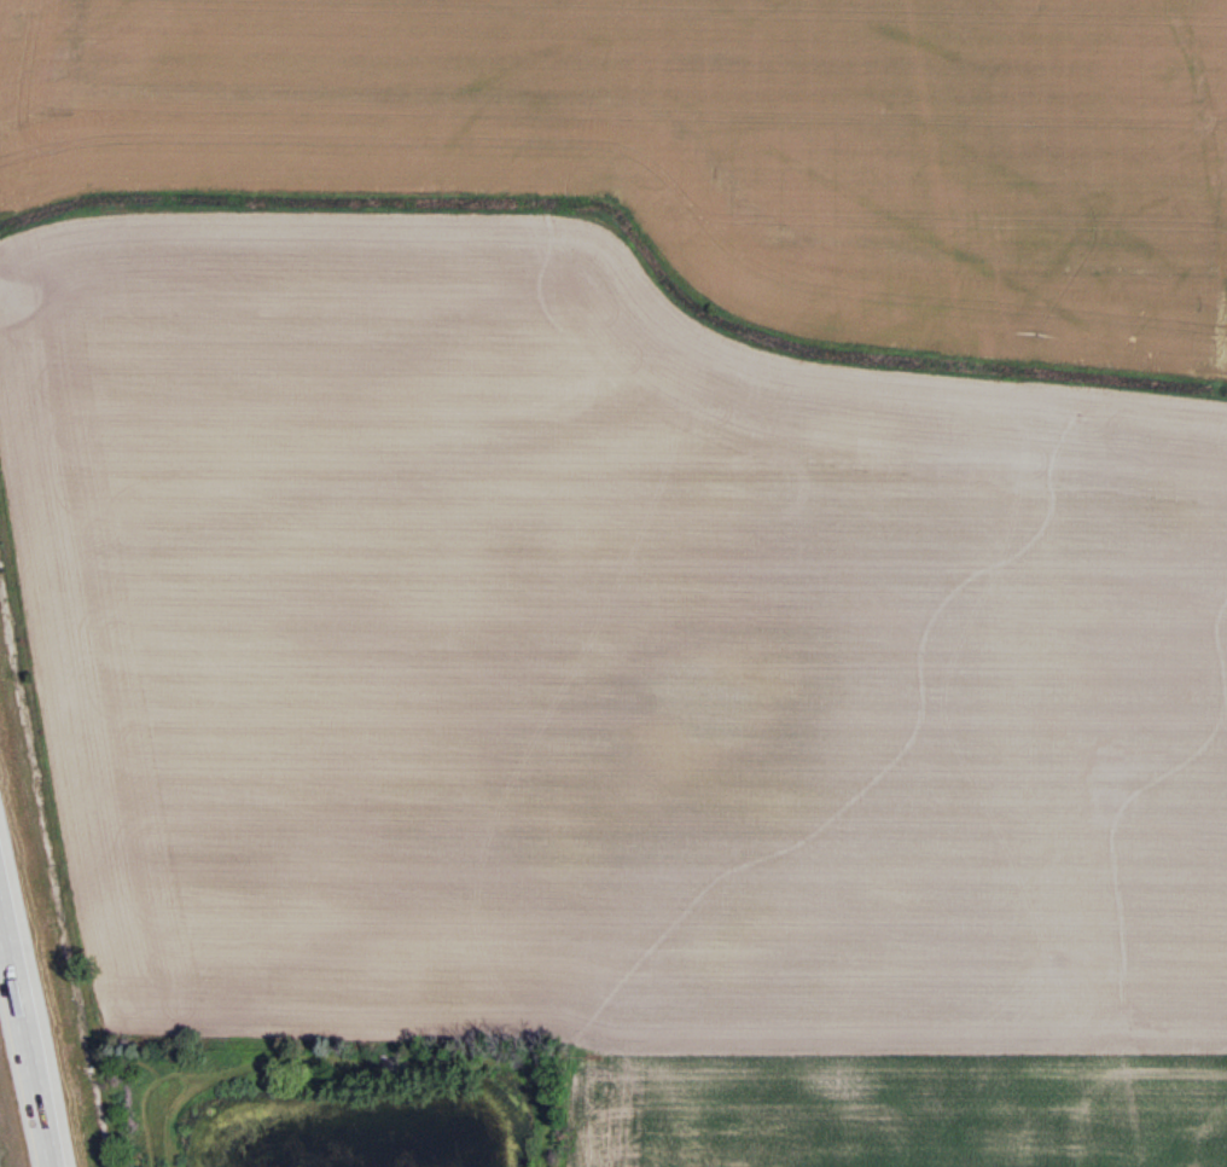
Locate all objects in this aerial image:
road: (29, 1037)

